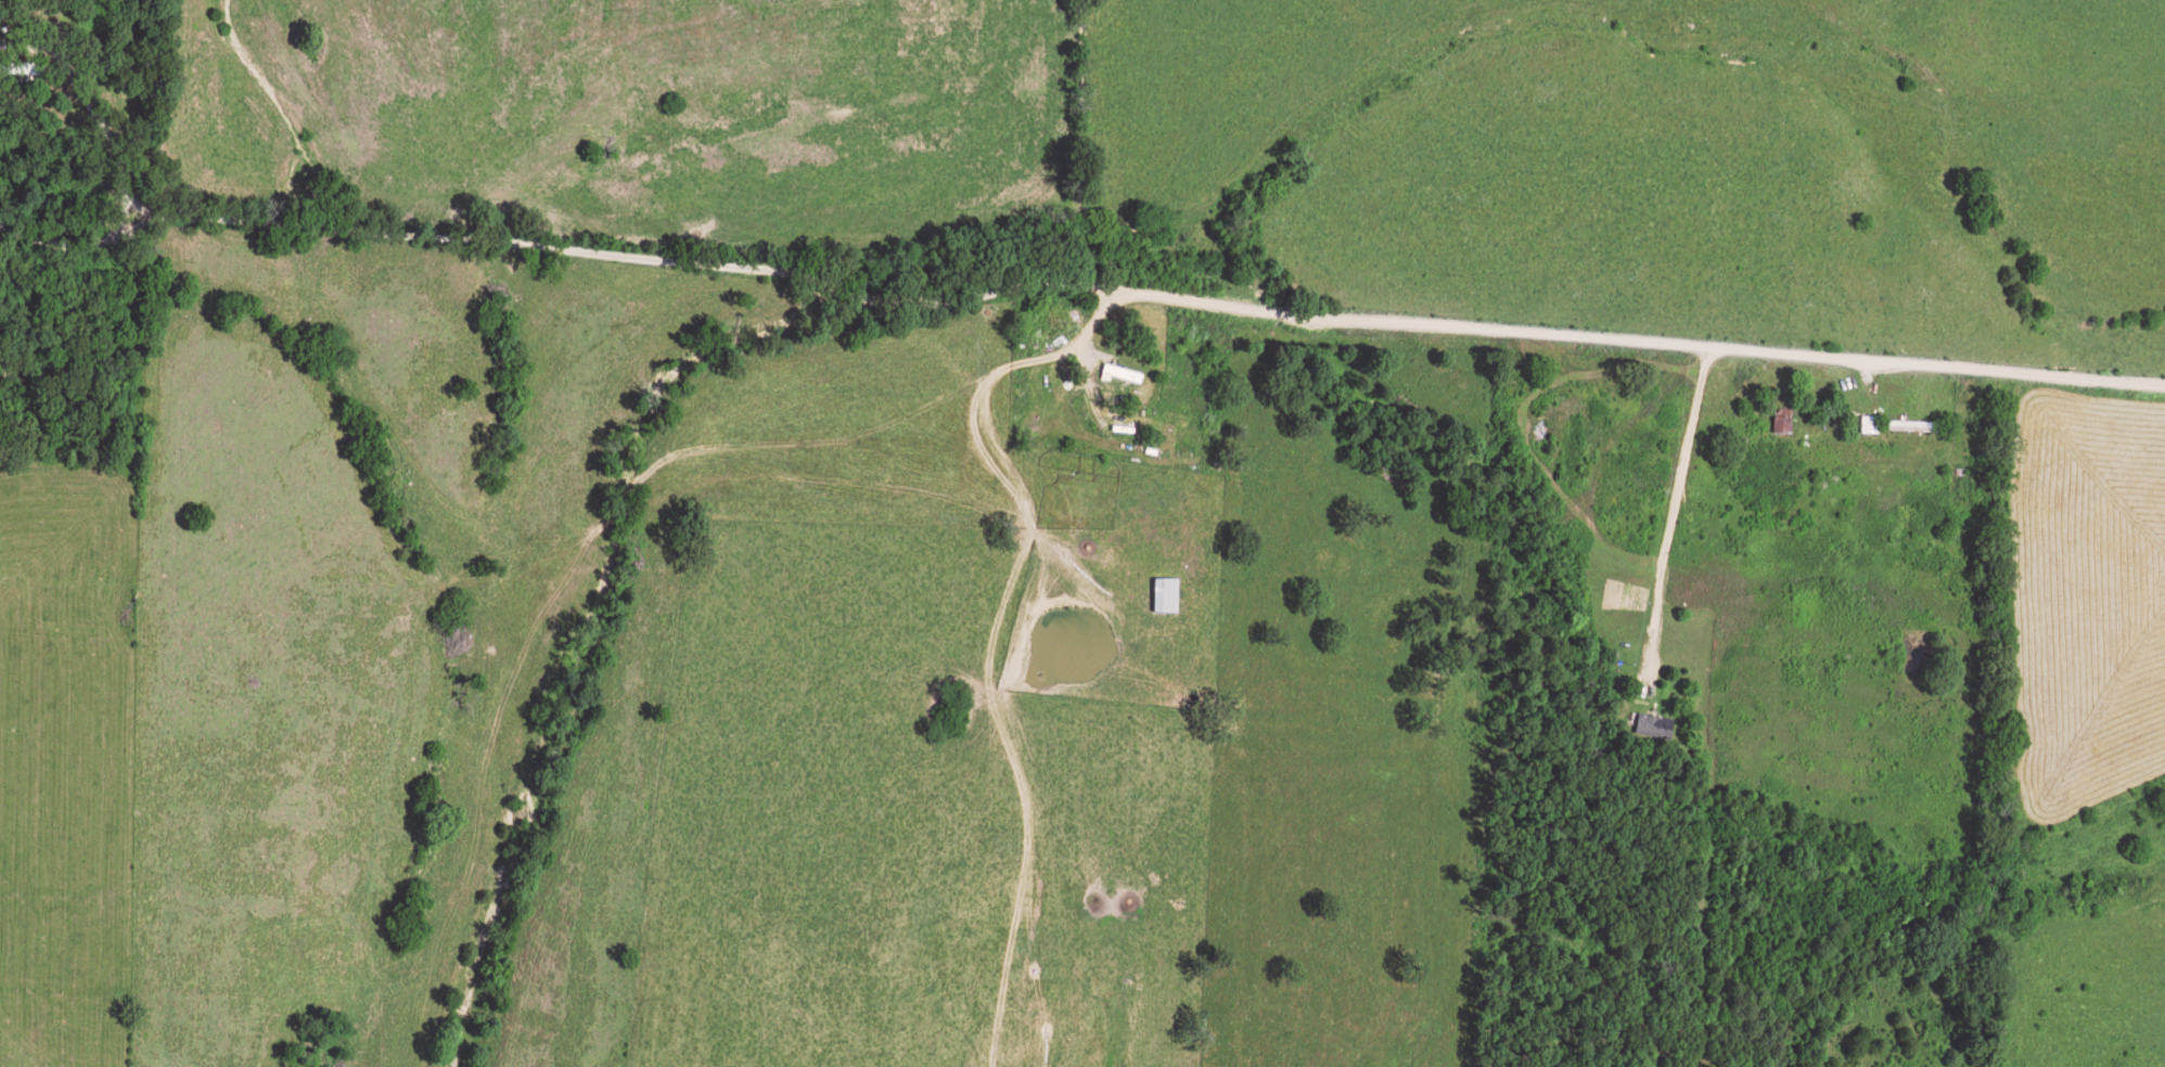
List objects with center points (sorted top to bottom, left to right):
road: (1079, 294)
building: (1117, 373)
building: (1158, 594)
building: (1650, 725)

